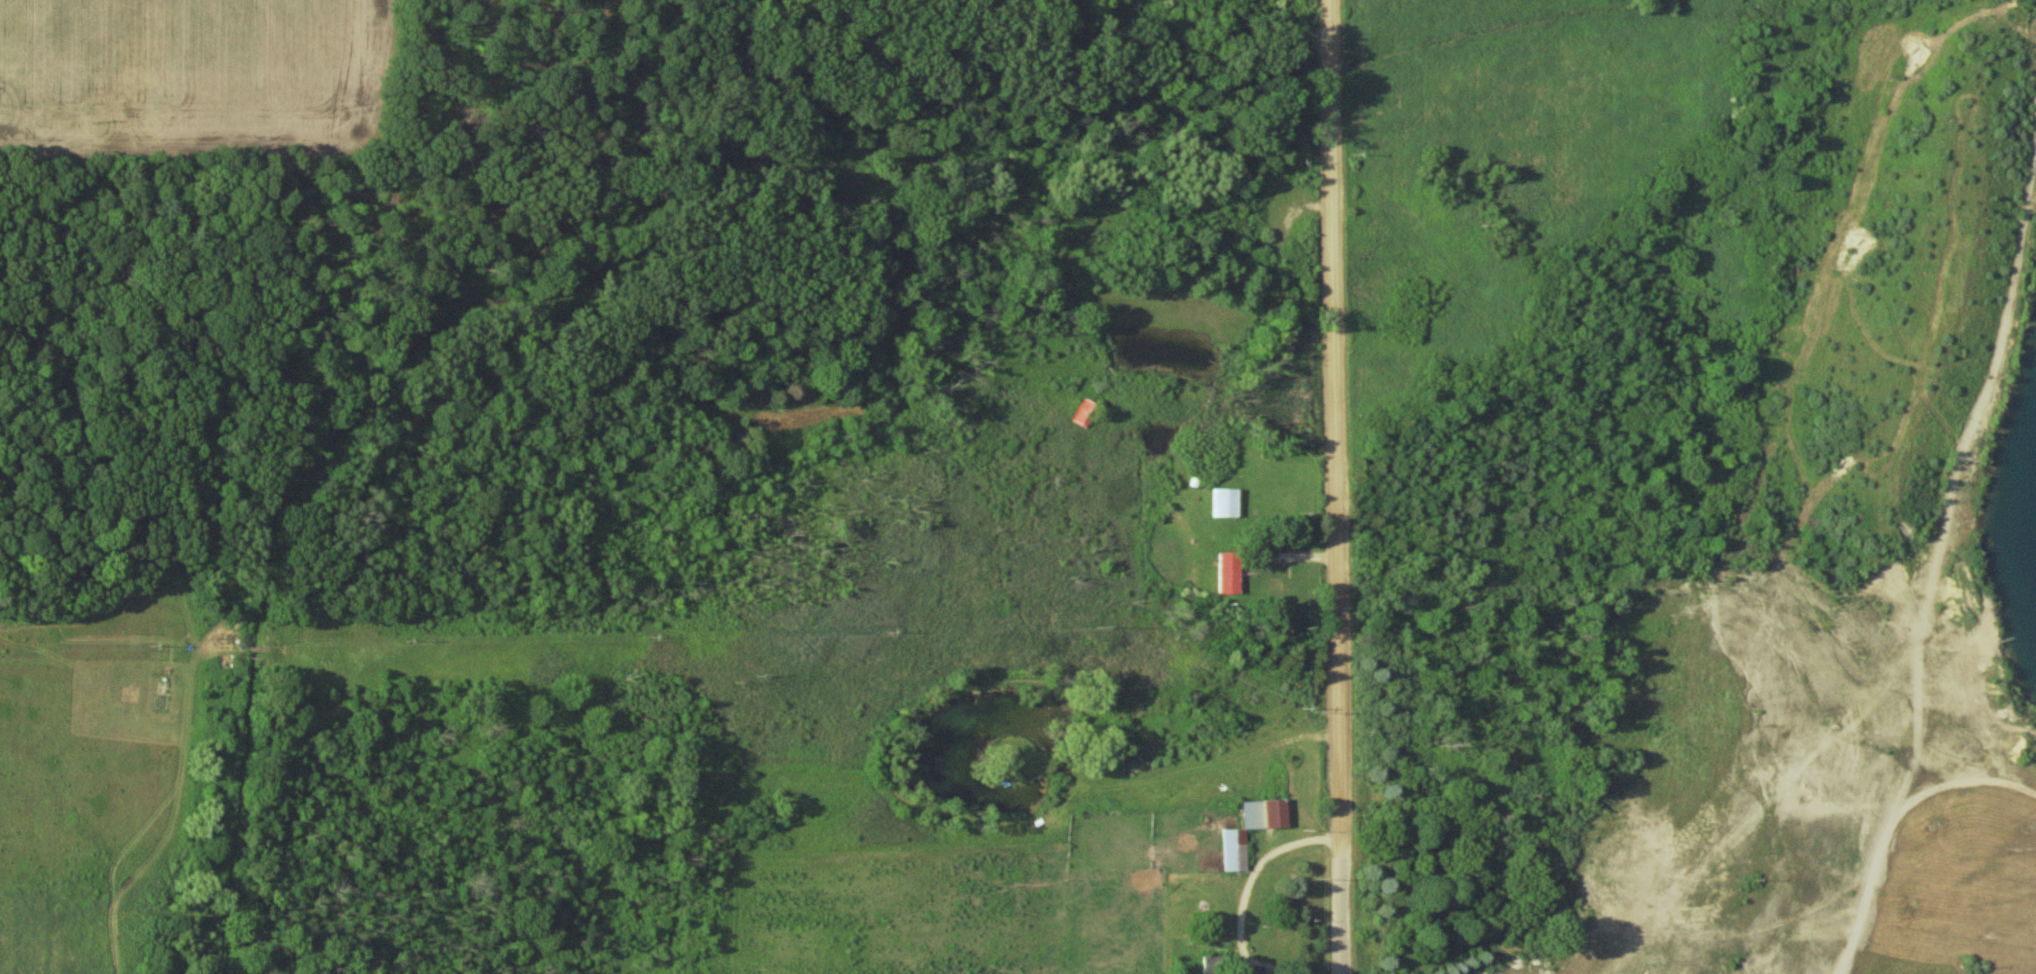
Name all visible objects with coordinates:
building: (1085, 413)
road: (1331, 487)
building: (1225, 502)
building: (1228, 573)
building: (1234, 850)
road: (1240, 886)

